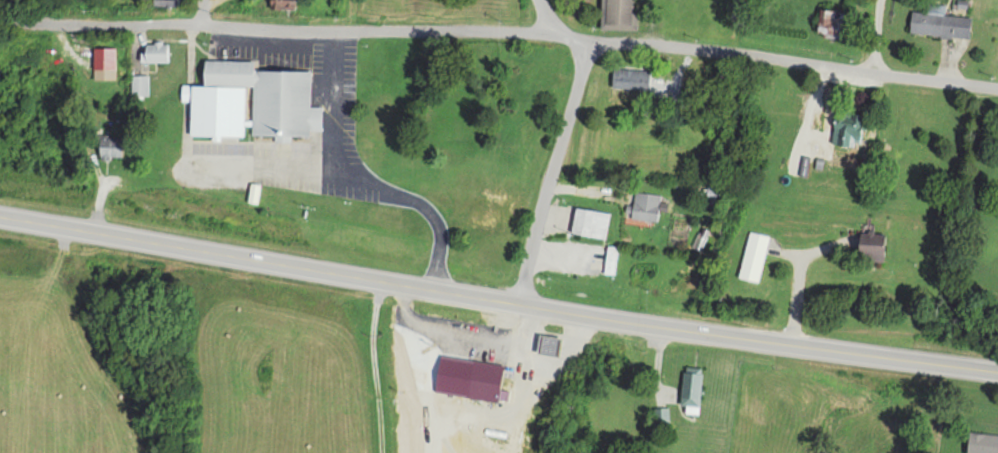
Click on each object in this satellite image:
building: (162, 2)
building: (281, 4)
road: (201, 13)
building: (617, 14)
road: (548, 17)
building: (828, 20)
building: (938, 24)
road: (500, 30)
building: (153, 51)
building: (250, 101)
building: (845, 129)
building: (107, 146)
road: (552, 170)
building: (643, 208)
building: (588, 222)
building: (868, 247)
building: (752, 256)
road: (498, 299)
building: (507, 341)
building: (546, 344)
building: (689, 388)
building: (659, 415)
building: (981, 443)

